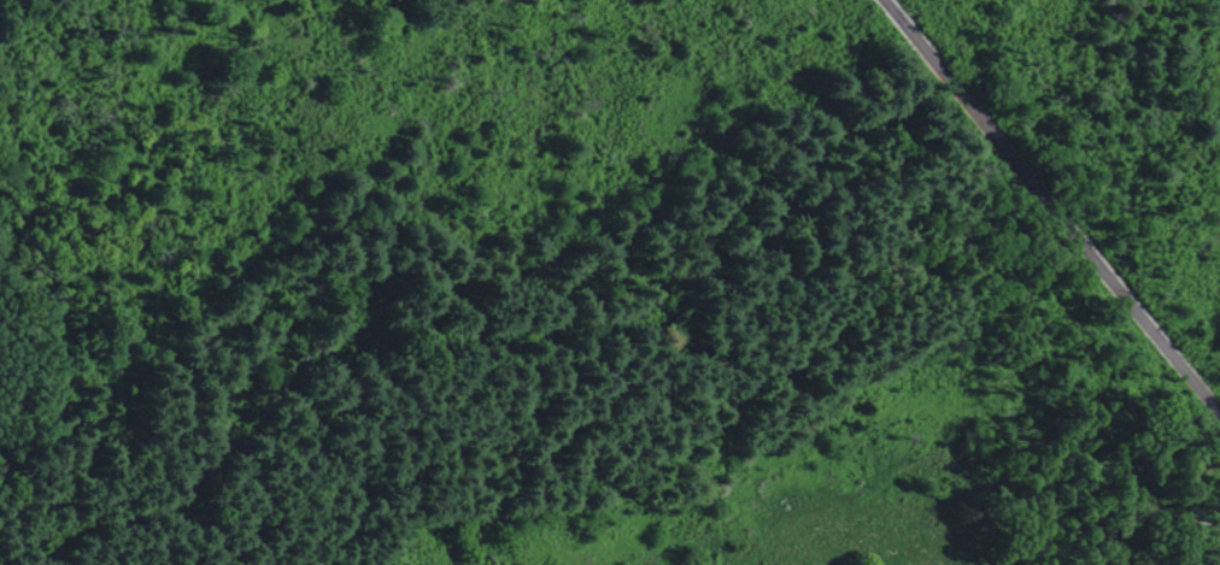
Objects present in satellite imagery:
road: (1050, 208)

